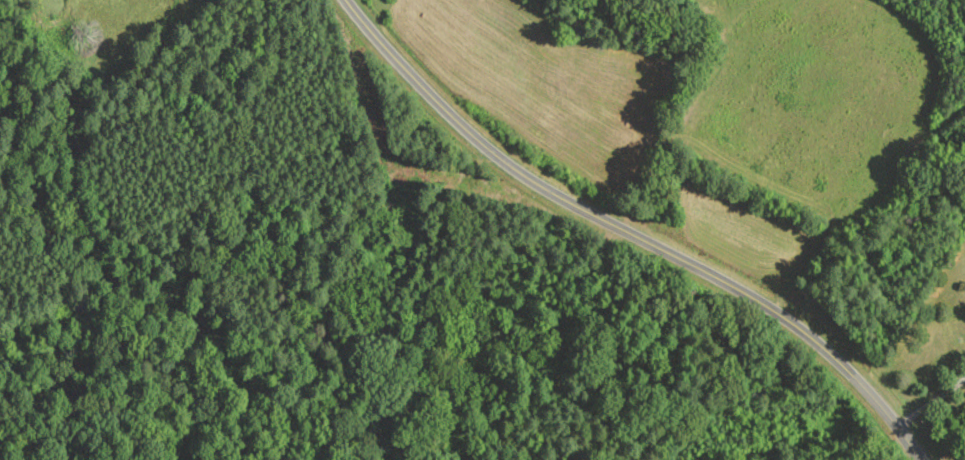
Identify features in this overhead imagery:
road: (630, 232)
road: (930, 403)

